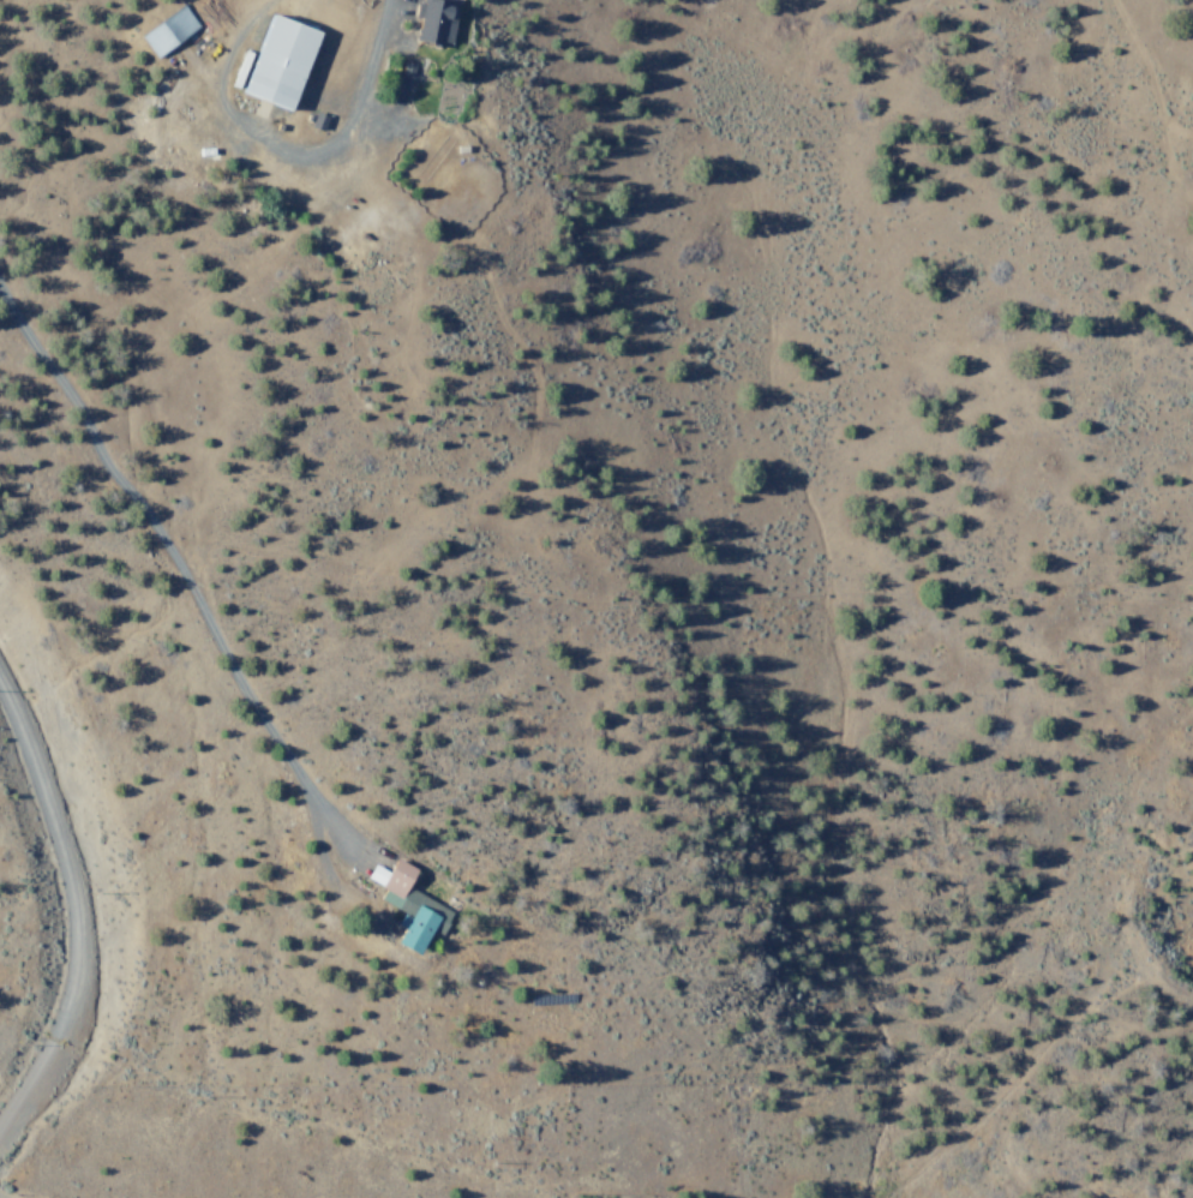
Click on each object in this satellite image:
building: (433, 23)
building: (167, 31)
building: (277, 62)
road: (65, 859)
building: (407, 906)
road: (26, 1086)

